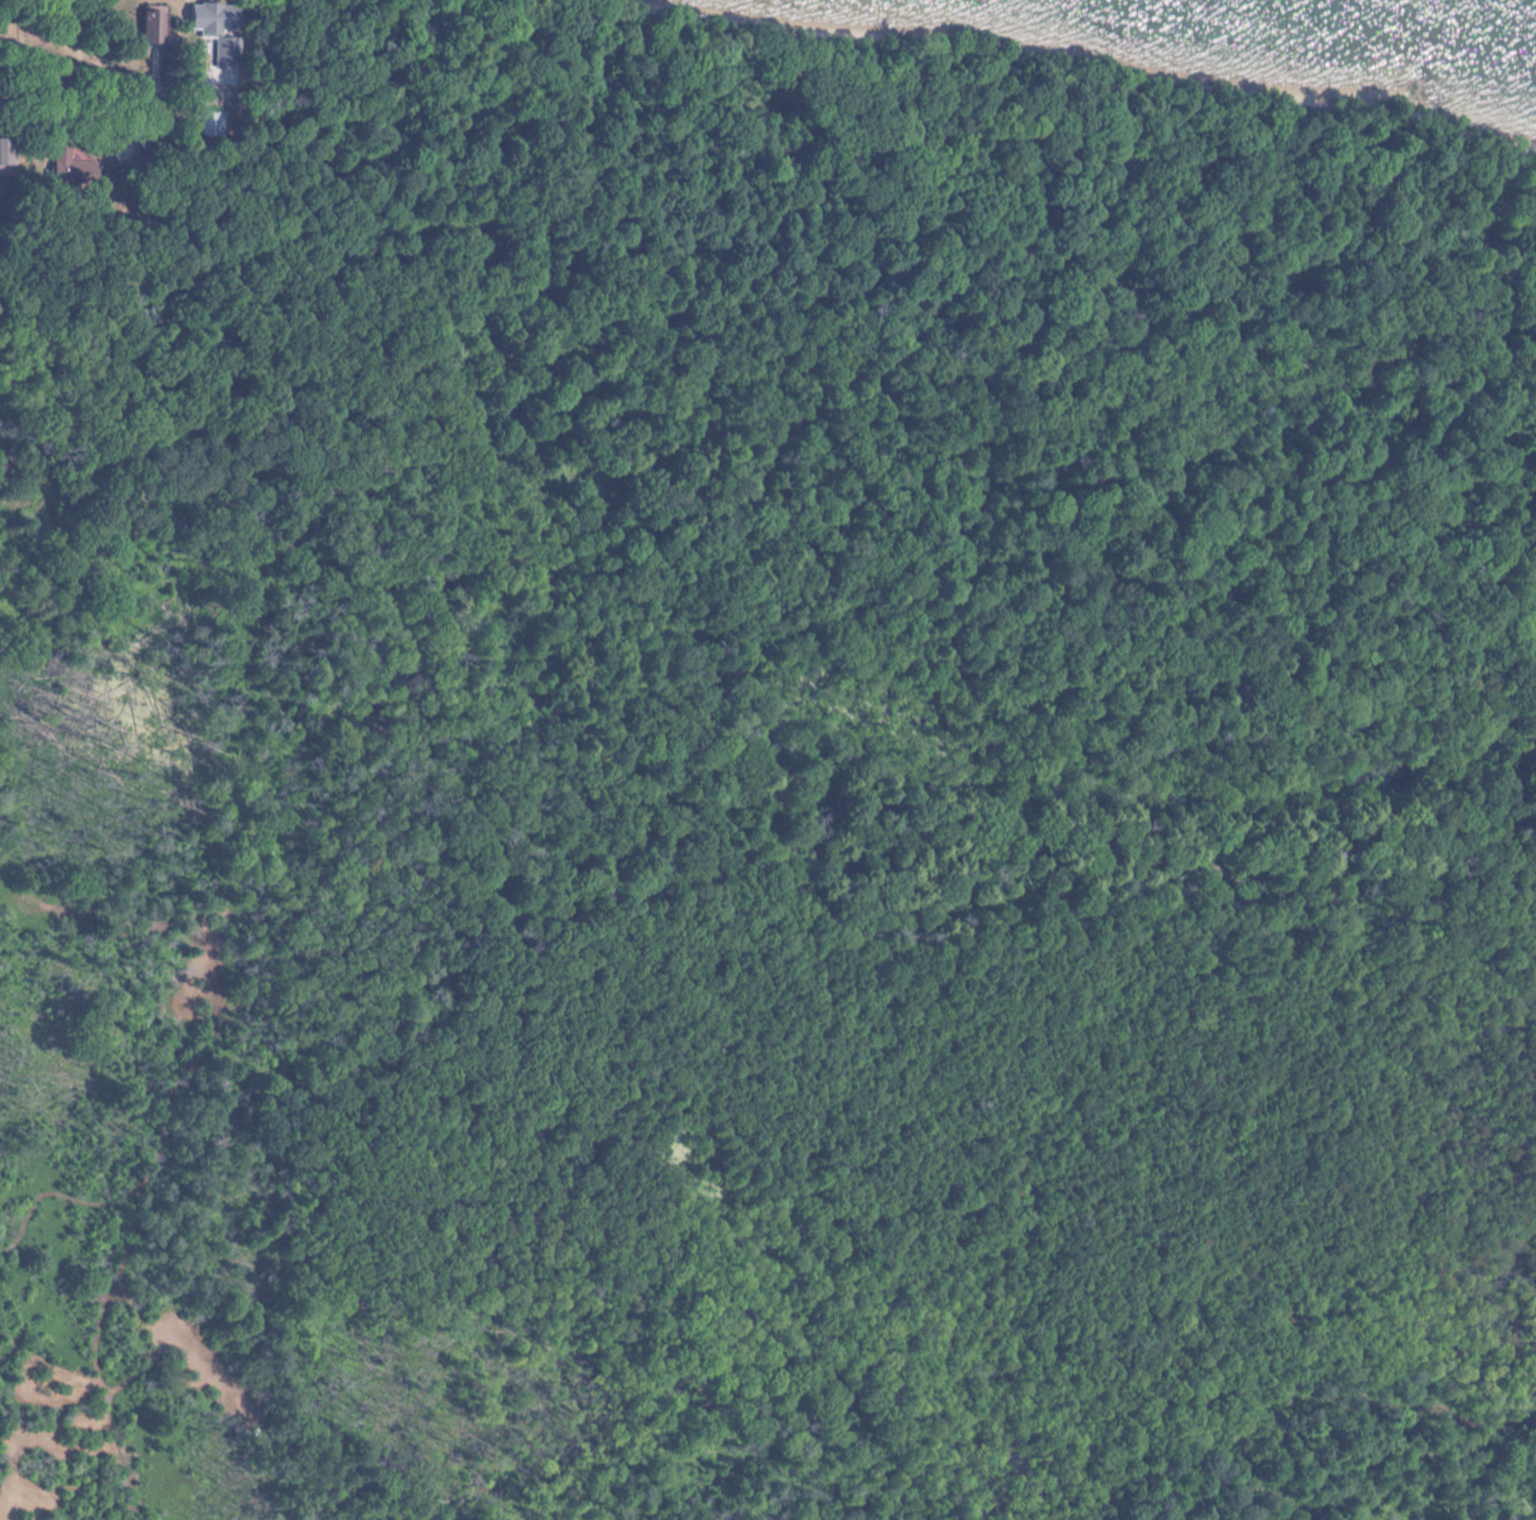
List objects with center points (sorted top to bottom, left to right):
building: (213, 24)
building: (155, 25)
road: (86, 60)
building: (7, 153)
building: (70, 166)

